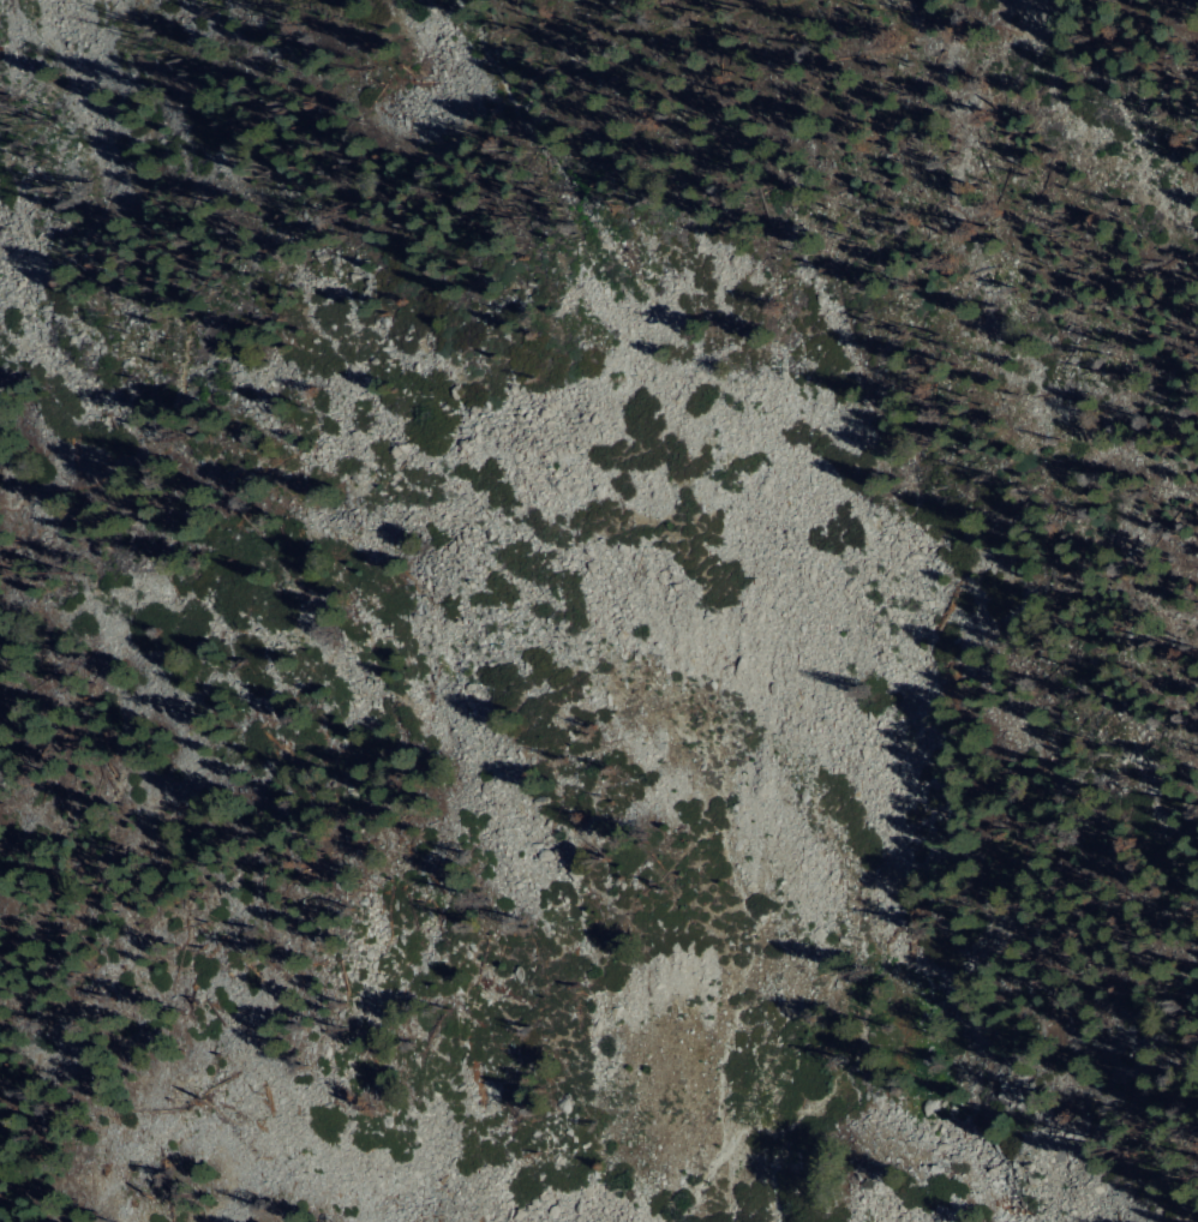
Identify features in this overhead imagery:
road: (1025, 34)
road: (327, 200)

